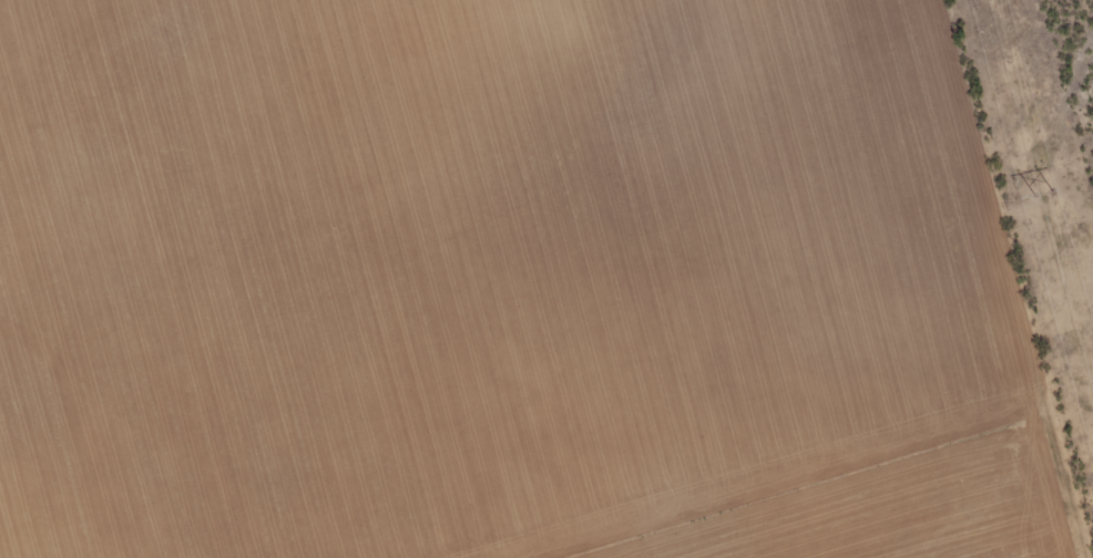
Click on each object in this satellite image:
power tower: (1046, 193)

